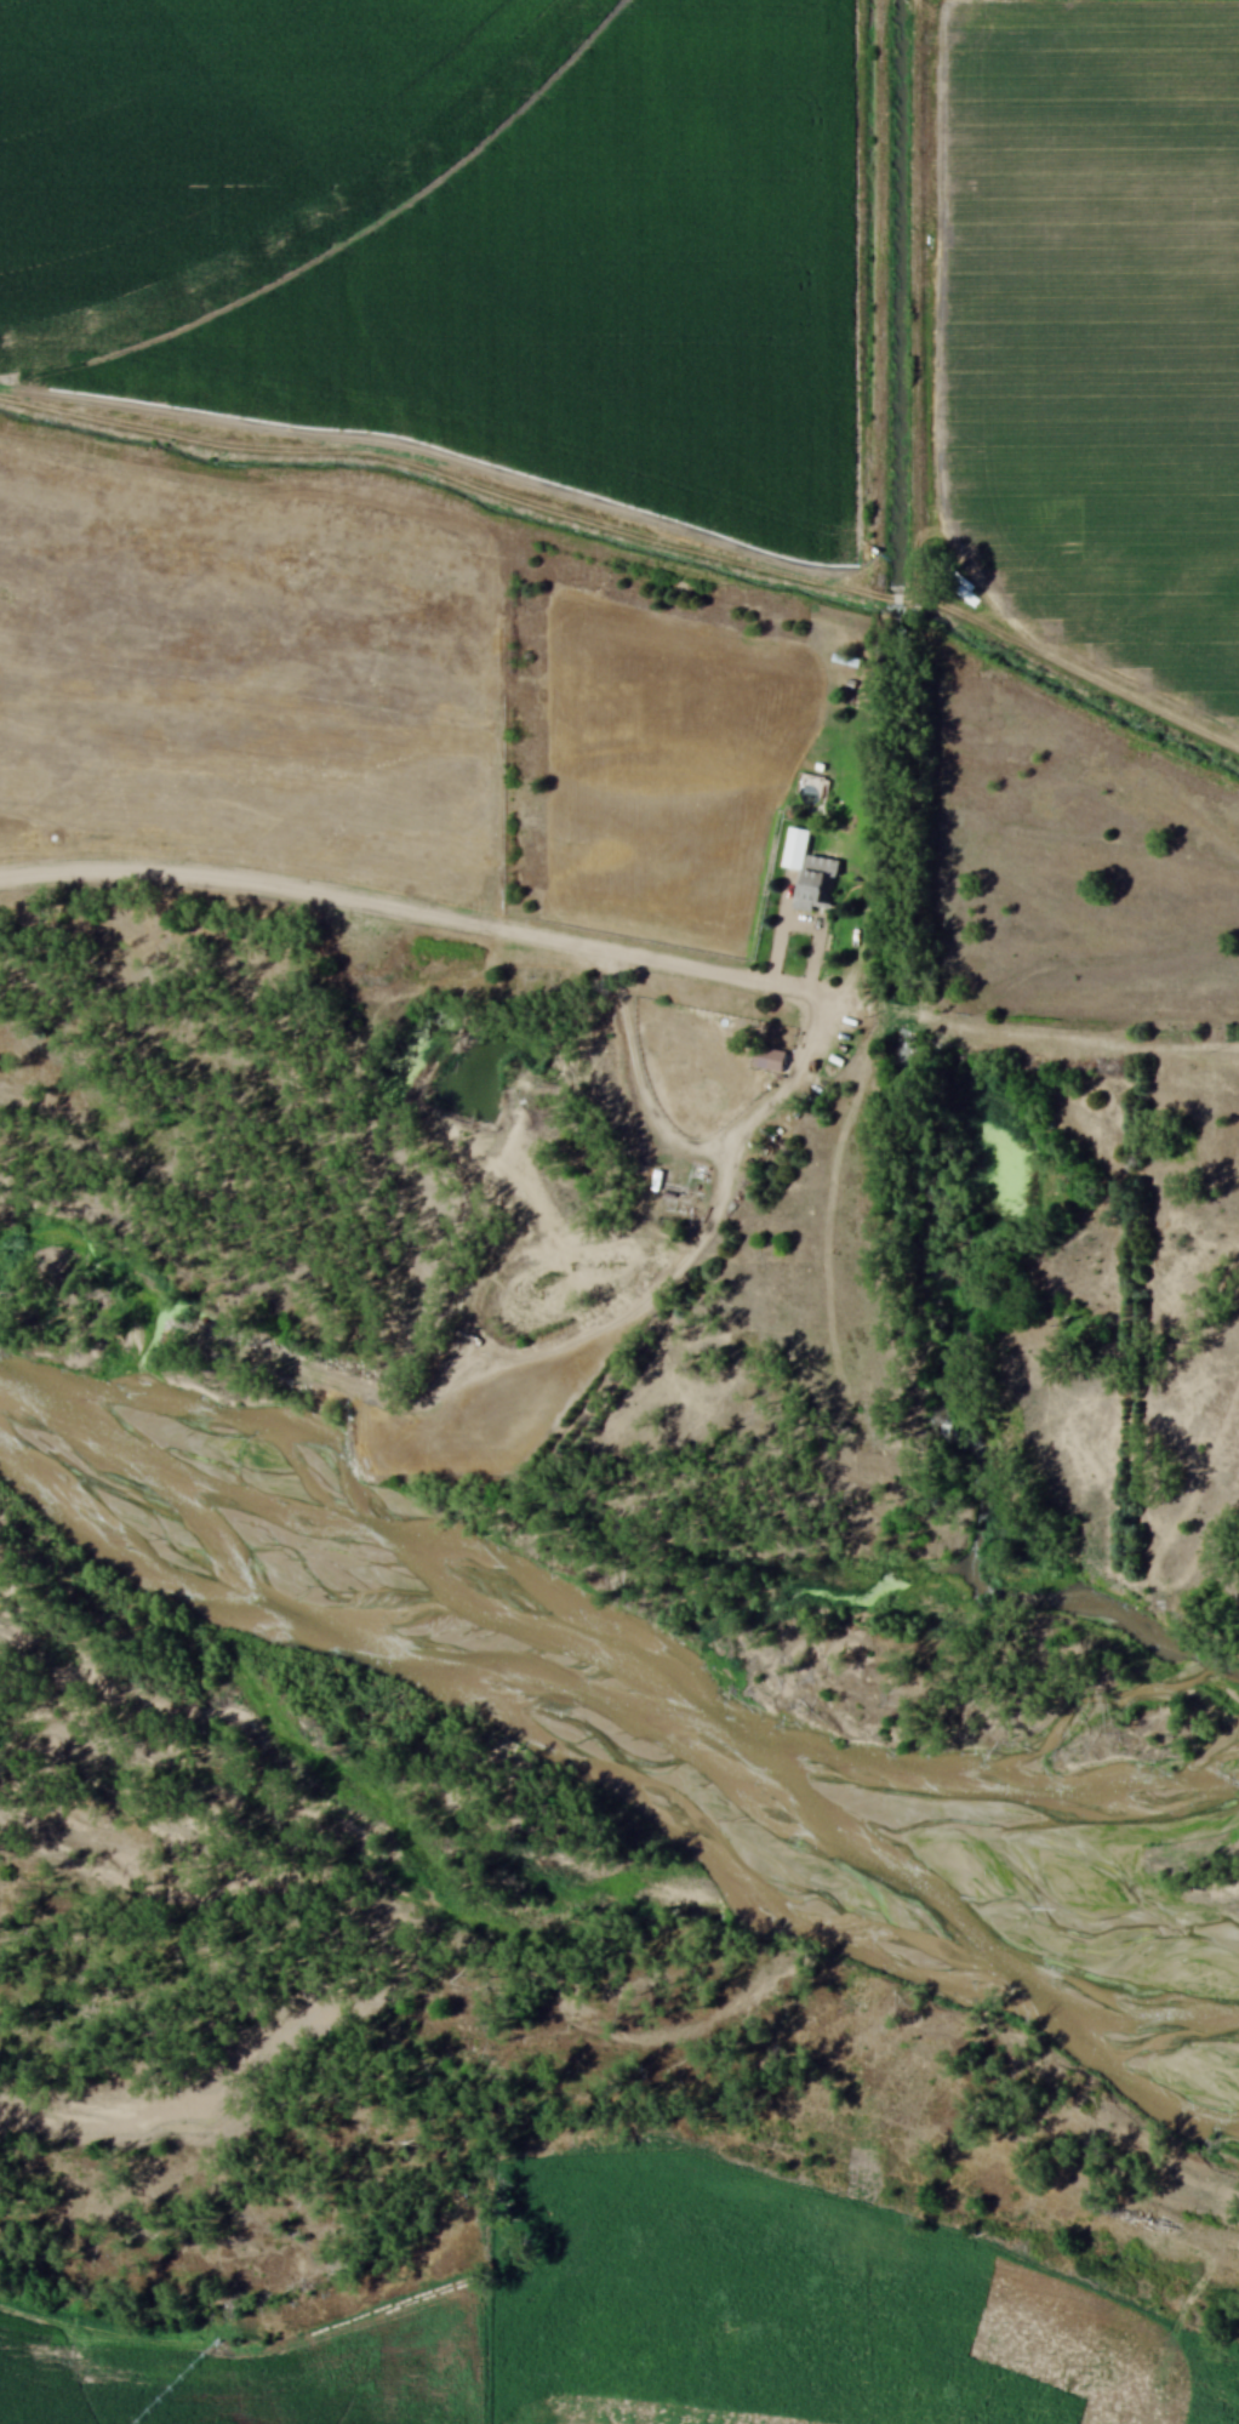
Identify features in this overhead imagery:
crop: (462, 224)
crop: (1101, 307)
building: (844, 661)
building: (810, 872)
road: (418, 907)
building: (769, 1059)
road: (784, 1078)
river: (626, 1713)

